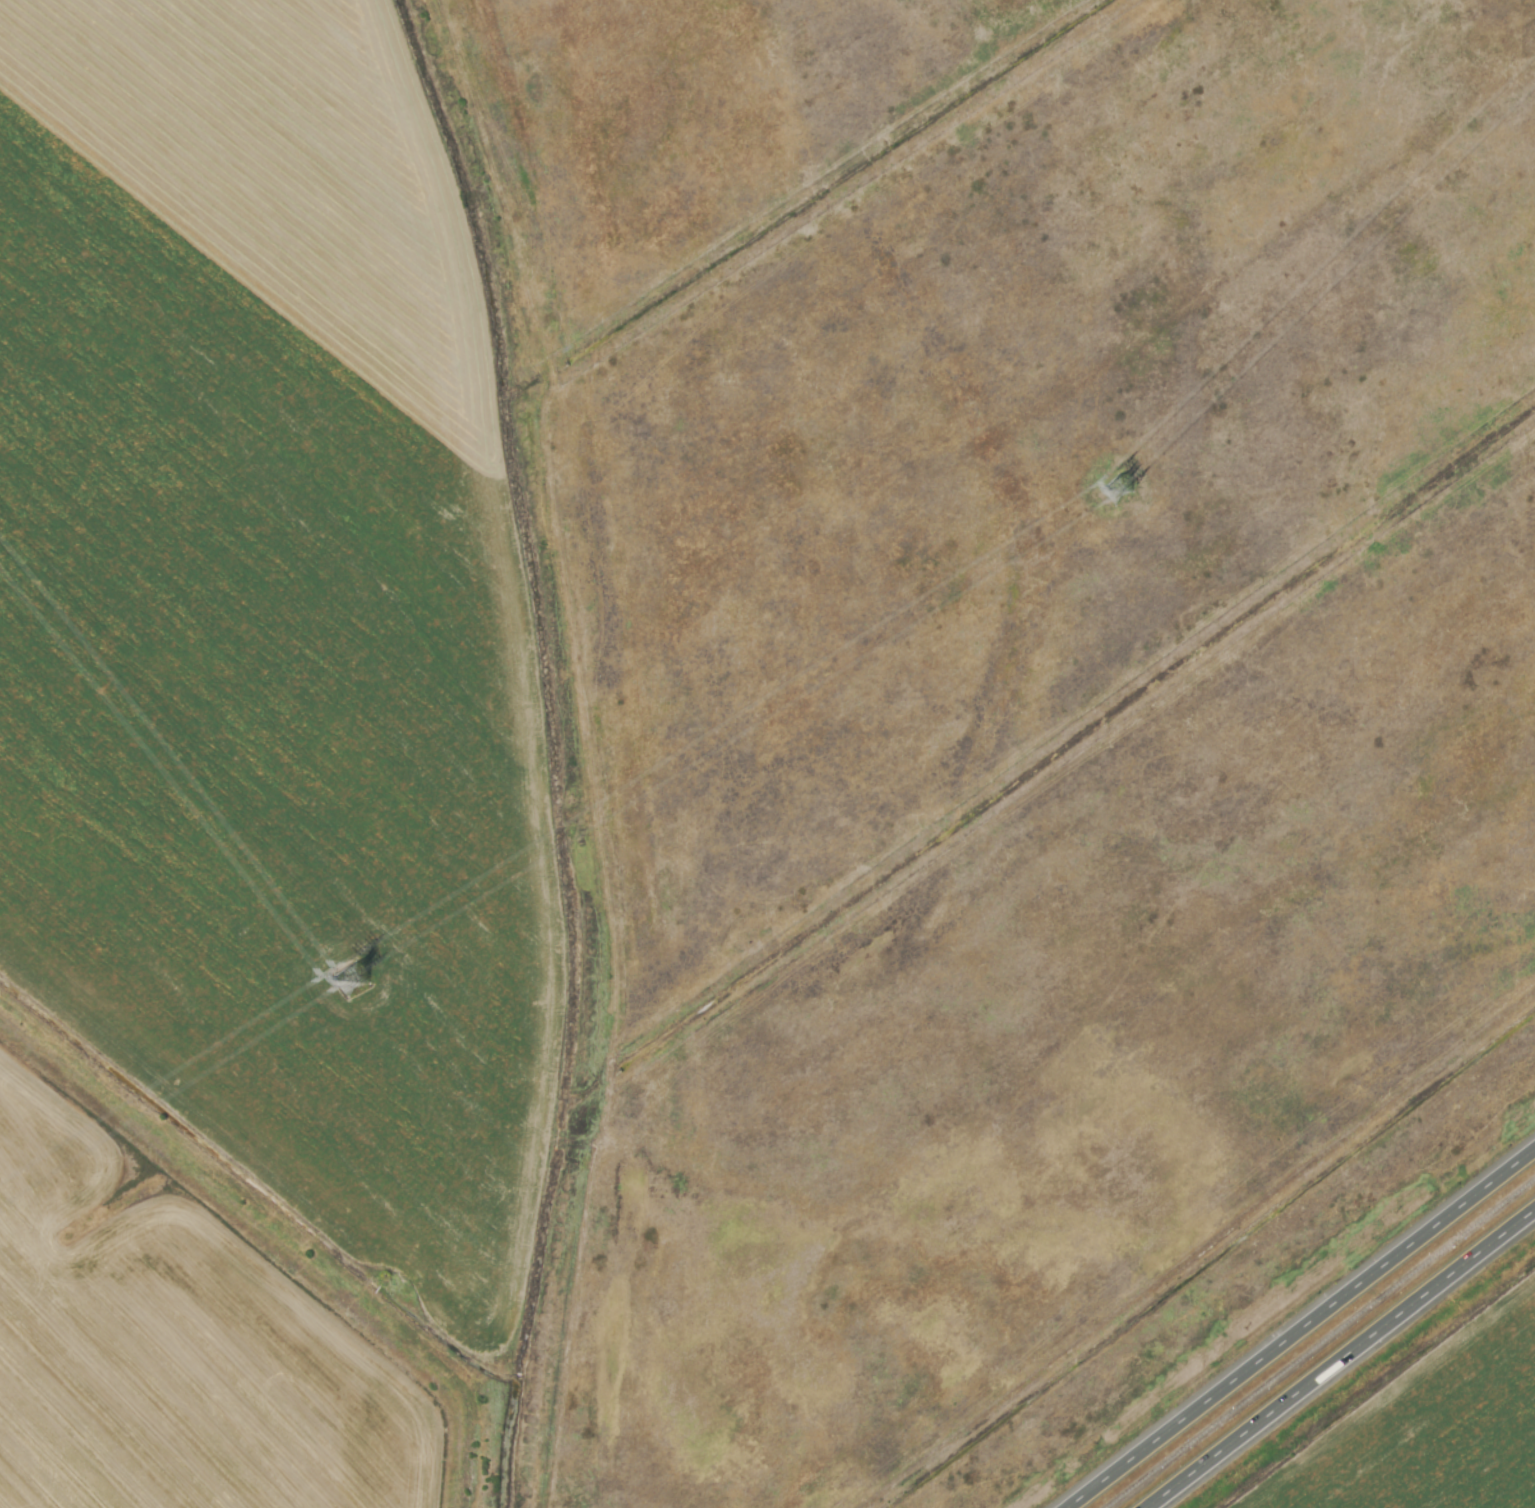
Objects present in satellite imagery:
power tower: (1119, 489)
power tower: (355, 980)
road: (1301, 1328)
road: (1342, 1360)

